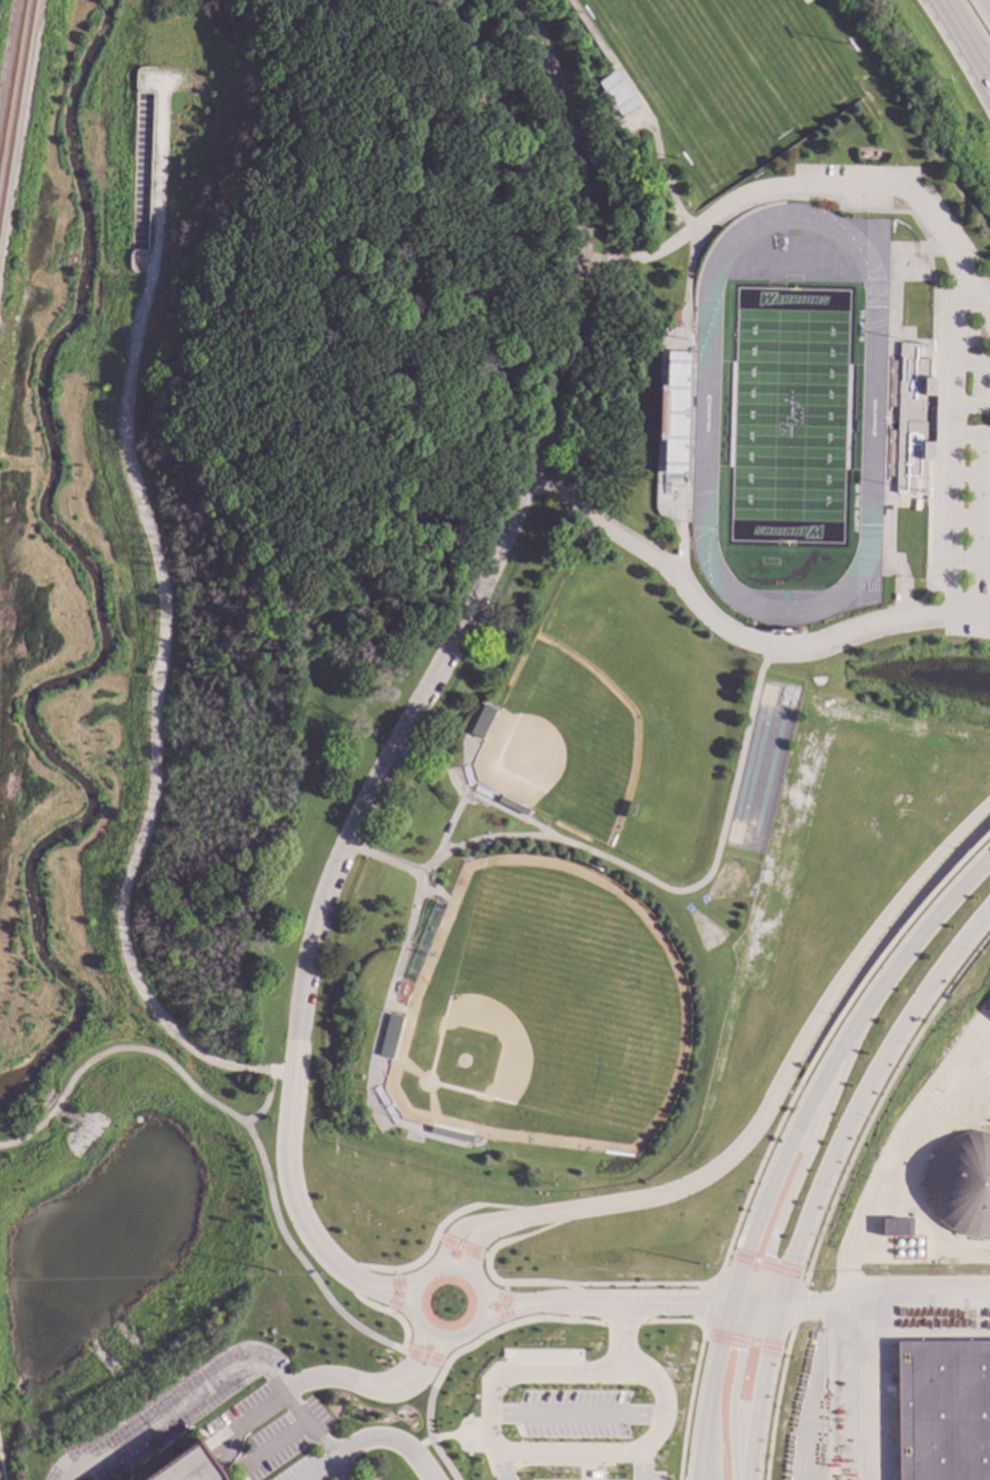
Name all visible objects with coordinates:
road: (288, 15)
road: (969, 31)
road: (954, 60)
road: (260, 65)
park: (728, 70)
railway: (12, 76)
building: (614, 94)
road: (644, 107)
railway: (17, 110)
building: (140, 168)
road: (452, 186)
road: (879, 186)
road: (641, 258)
road: (892, 264)
road: (688, 285)
road: (274, 358)
road: (972, 363)
building: (676, 367)
road: (368, 385)
parking lot: (943, 388)
track: (705, 403)
road: (972, 405)
building: (659, 415)
park: (789, 415)
building: (911, 417)
stadium: (796, 418)
road: (972, 433)
road: (953, 451)
road: (971, 474)
road: (929, 513)
road: (407, 515)
road: (970, 516)
road: (606, 531)
park: (235, 538)
park: (235, 538)
road: (682, 542)
road: (379, 544)
road: (500, 548)
road: (970, 559)
road: (887, 566)
road: (969, 602)
road: (162, 615)
road: (306, 620)
road: (859, 640)
road: (826, 642)
building: (145, 673)
building: (481, 722)
park: (605, 724)
park: (761, 767)
road: (500, 807)
road: (385, 859)
park: (727, 883)
road: (680, 890)
park: (704, 931)
road: (395, 973)
building: (987, 1010)
park: (543, 1012)
building: (388, 1037)
road: (154, 1054)
road: (830, 1063)
road: (784, 1074)
road: (862, 1094)
road: (789, 1102)
road: (798, 1174)
building: (959, 1185)
silo: (959, 1185)
road: (290, 1189)
road: (837, 1189)
road: (485, 1206)
road: (457, 1227)
building: (889, 1228)
road: (527, 1236)
road: (476, 1242)
road: (482, 1255)
road: (767, 1263)
power tower: (699, 1264)
road: (367, 1268)
power tower: (272, 1273)
road: (309, 1273)
road: (428, 1274)
road: (388, 1287)
road: (397, 1293)
road: (884, 1293)
road: (384, 1298)
road: (361, 1301)
road: (514, 1301)
road: (584, 1302)
road: (710, 1303)
road: (569, 1304)
road: (602, 1304)
road: (675, 1304)
road: (755, 1304)
road: (501, 1305)
road: (512, 1312)
road: (664, 1321)
road: (588, 1323)
road: (623, 1323)
road: (403, 1328)
road: (503, 1328)
road: (620, 1340)
road: (745, 1343)
road: (415, 1353)
road: (717, 1359)
road: (431, 1366)
road: (219, 1380)
road: (344, 1380)
road: (733, 1389)
road: (875, 1389)
road: (760, 1391)
road: (691, 1394)
road: (428, 1401)
building: (942, 1409)
parking lot: (573, 1415)
road: (576, 1415)
road: (246, 1417)
road: (388, 1436)
road: (448, 1436)
road: (279, 1444)
road: (707, 1447)
road: (528, 1454)
road: (443, 1460)
building: (185, 1467)
road: (500, 1467)
road: (642, 1467)
road: (1, 1470)
road: (317, 1470)
parking lot: (647, 1477)
parking lot: (514, 1479)

